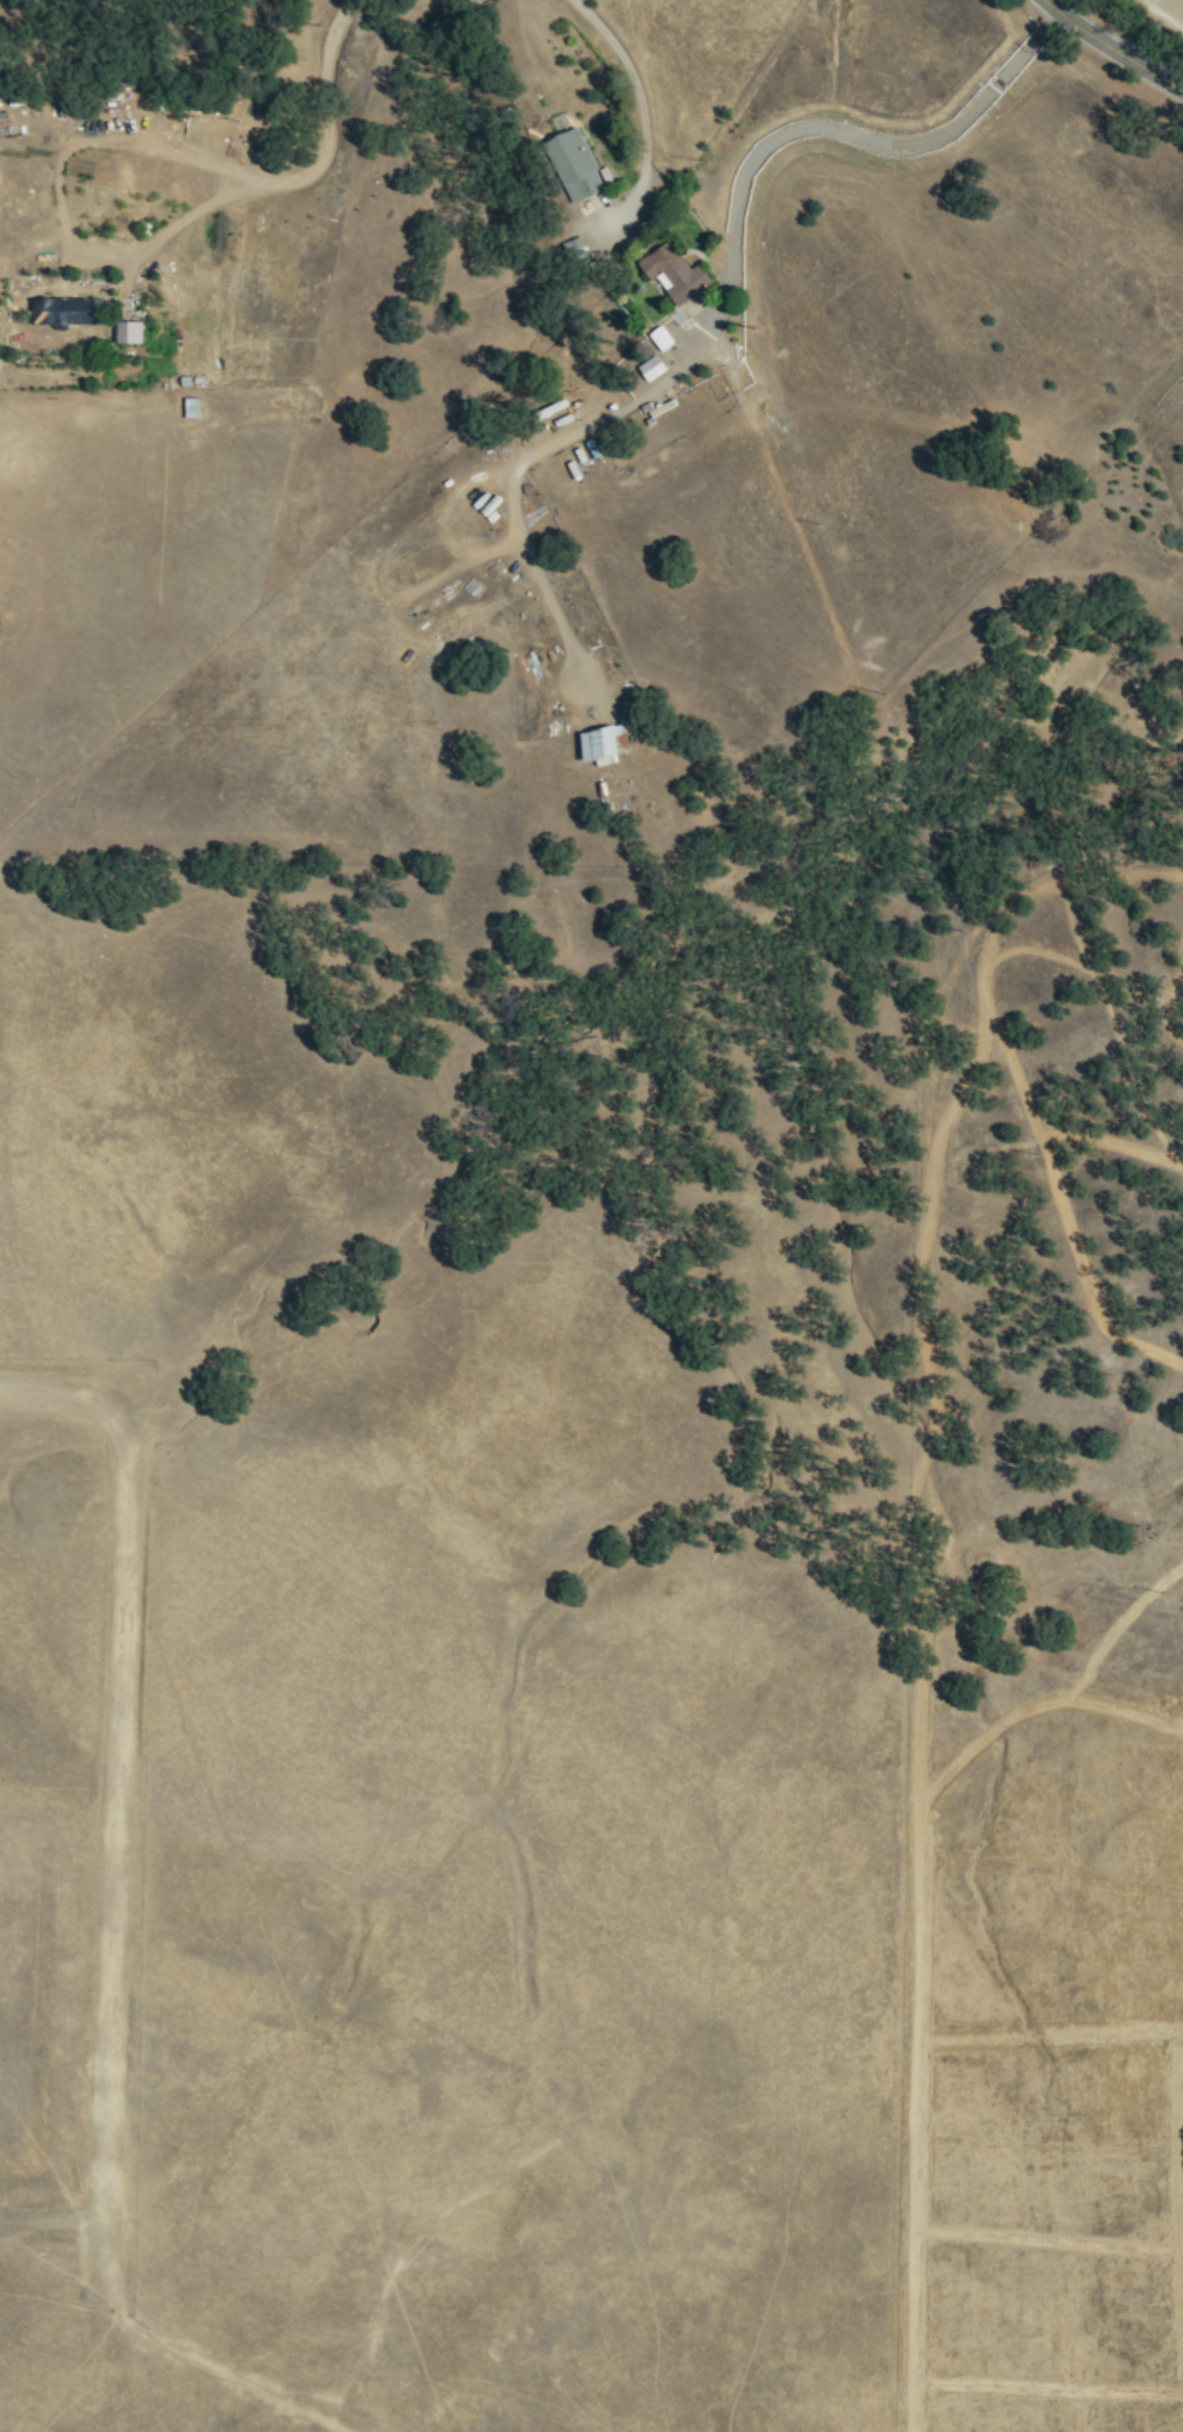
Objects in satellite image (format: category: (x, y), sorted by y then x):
building: (466, 0)
road: (1107, 49)
road: (640, 111)
road: (820, 130)
building: (575, 165)
building: (675, 273)
building: (64, 311)
building: (128, 332)
building: (651, 367)
building: (603, 744)

